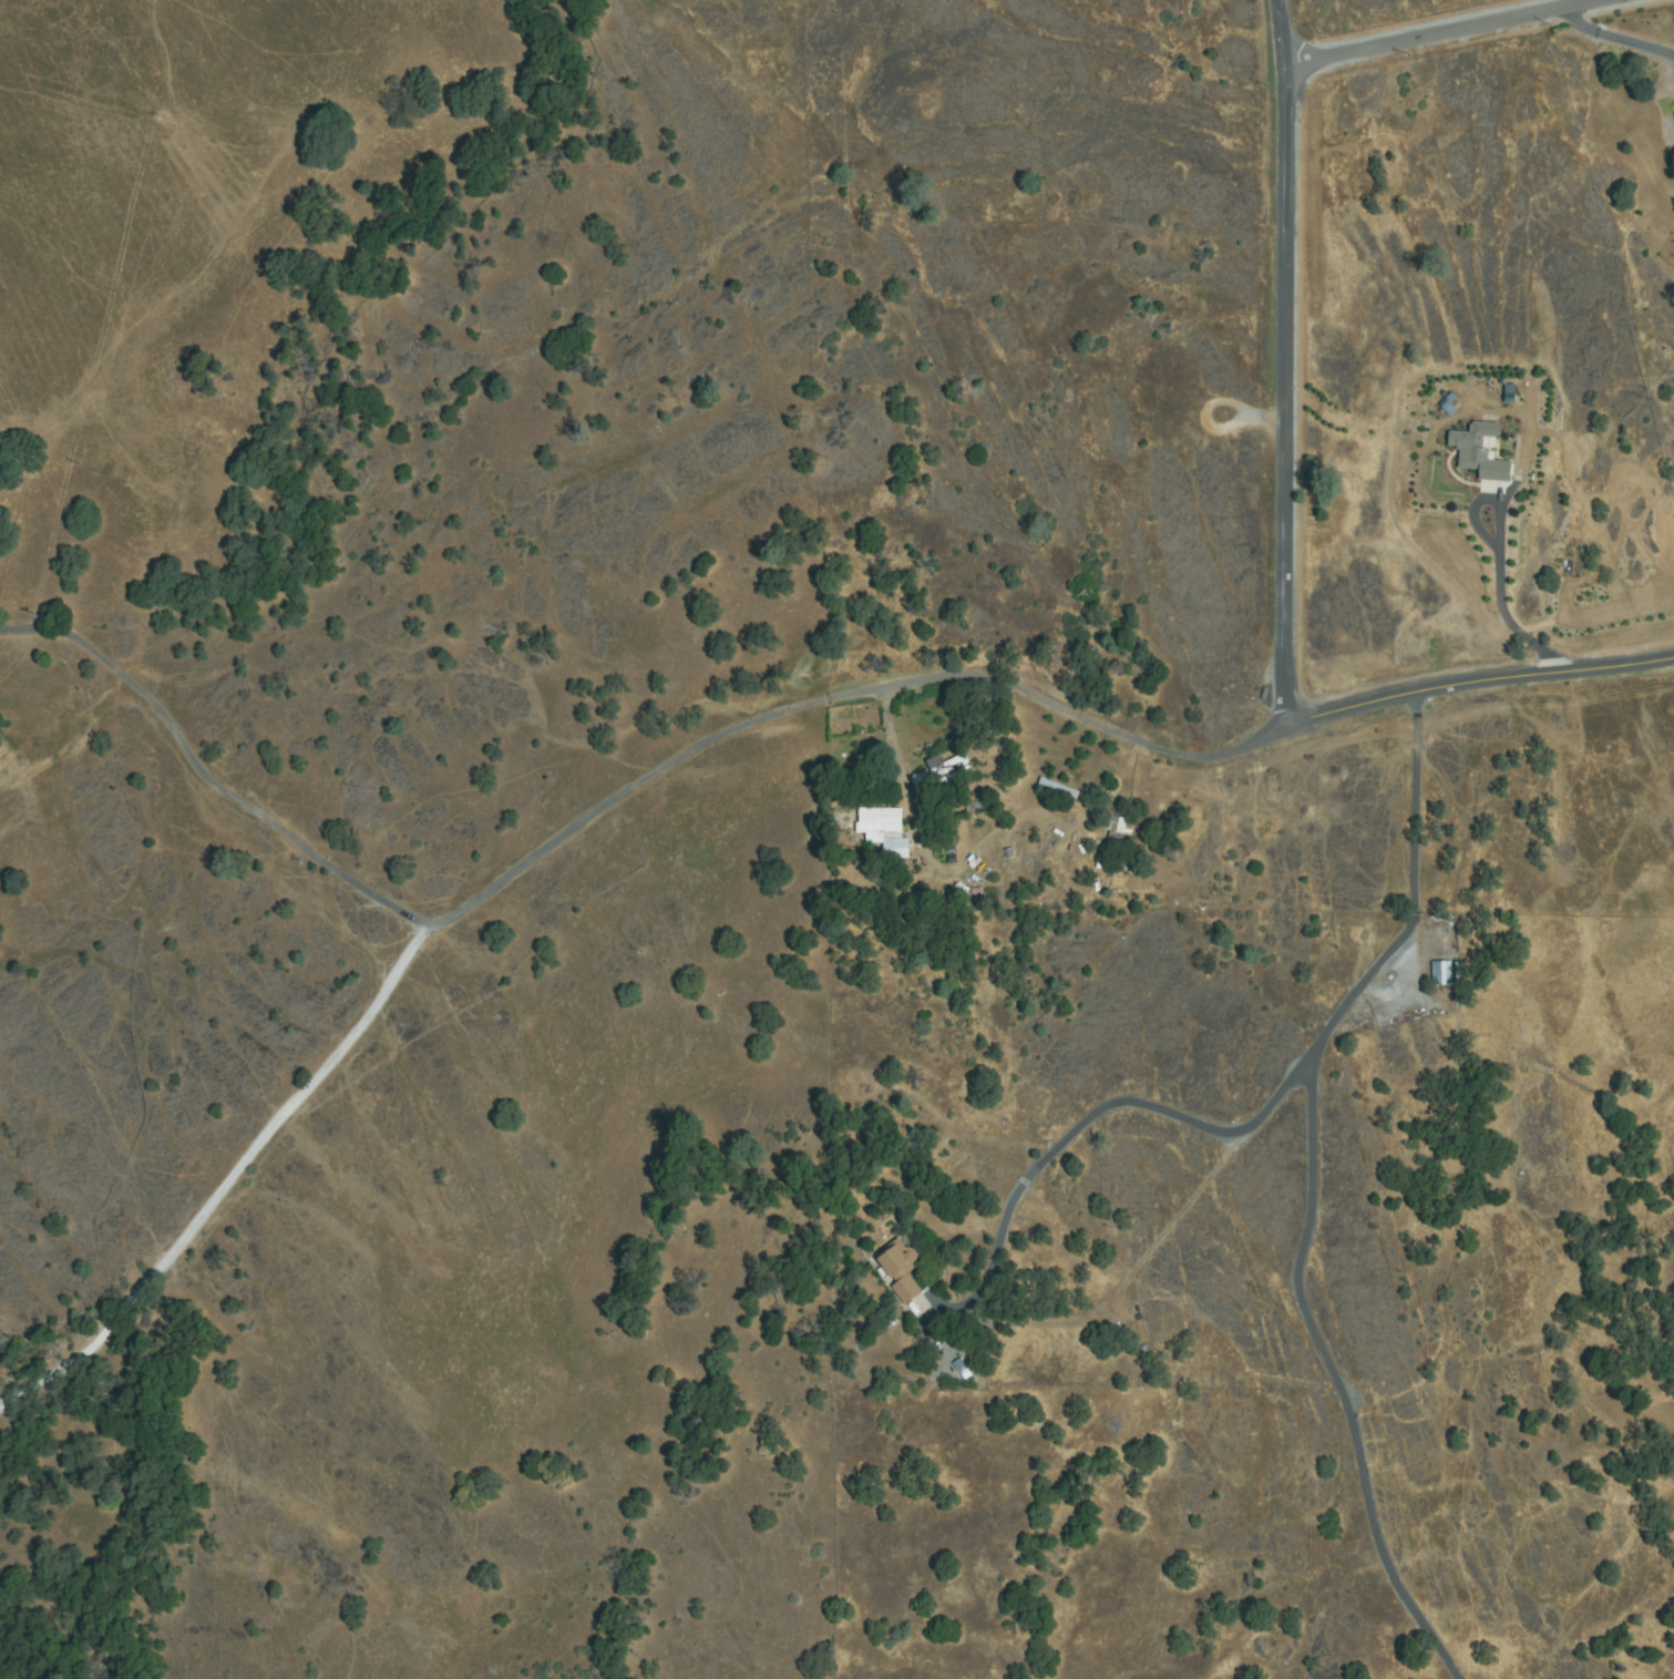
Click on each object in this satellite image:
road: (1449, 35)
road: (1274, 376)
building: (1506, 392)
building: (1480, 453)
road: (1470, 695)
building: (952, 770)
building: (922, 782)
building: (1058, 788)
road: (588, 820)
building: (883, 830)
building: (1112, 830)
building: (1441, 973)
road: (224, 1186)
building: (900, 1269)
building: (915, 1302)

